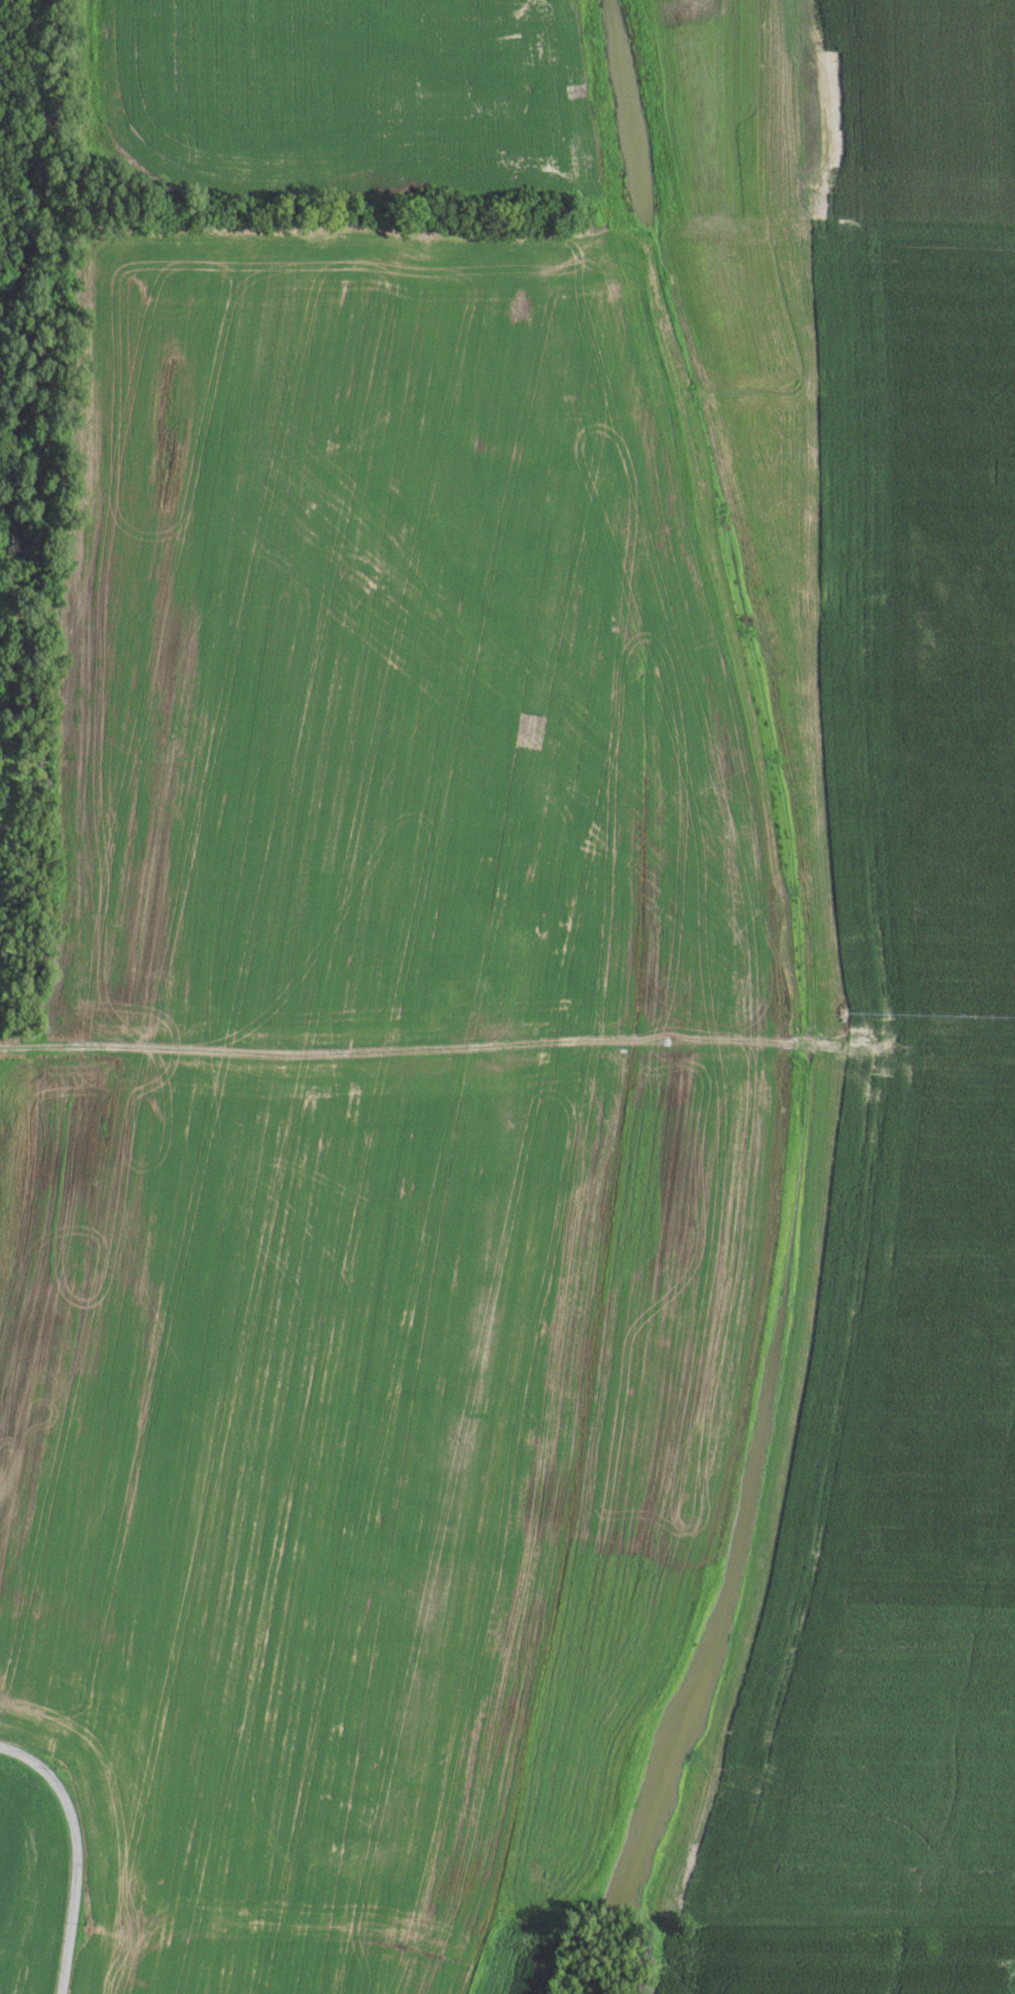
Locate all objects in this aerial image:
road: (75, 1853)

